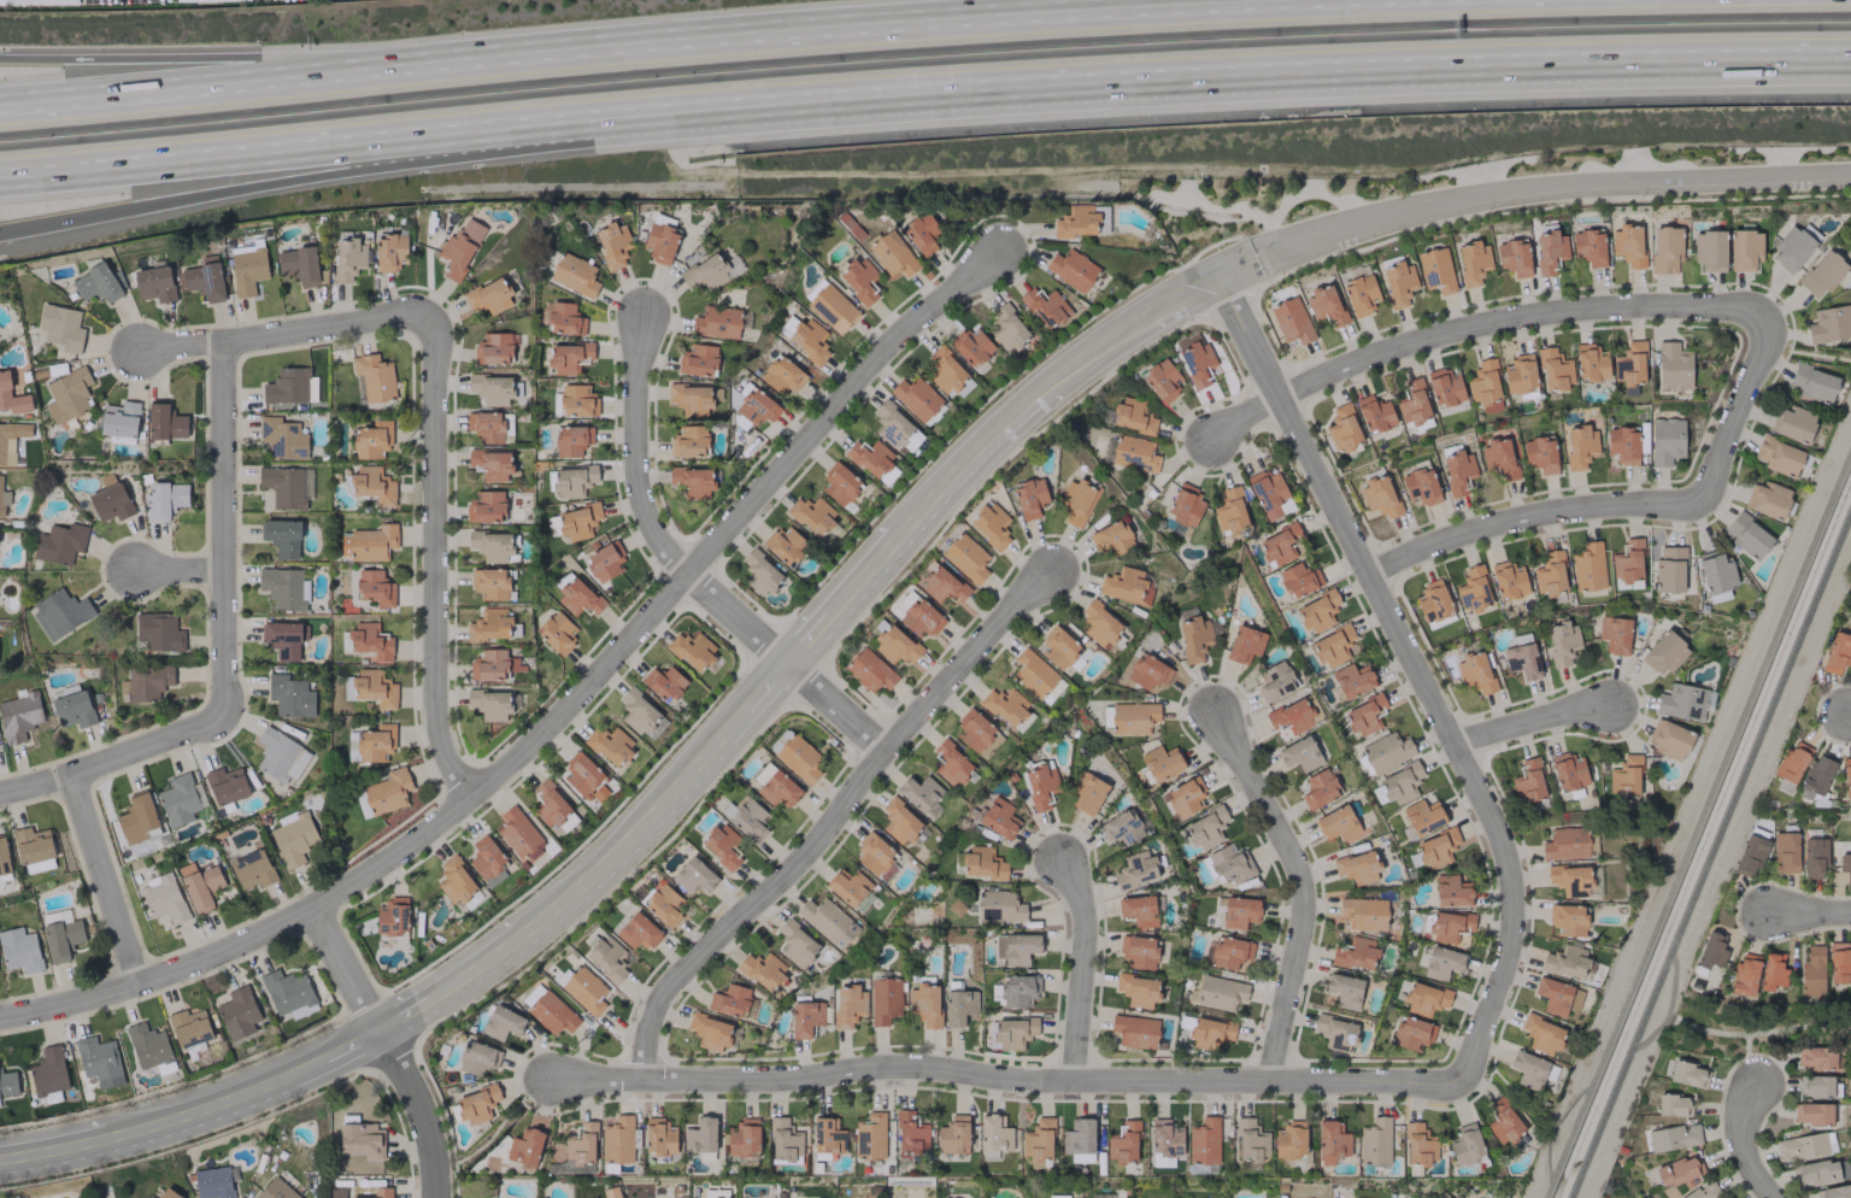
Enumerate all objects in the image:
road: (795, 24)
road: (229, 57)
road: (229, 78)
road: (1233, 78)
road: (307, 146)
road: (307, 176)
road: (1547, 182)
building: (922, 234)
building: (659, 242)
building: (612, 243)
building: (1627, 245)
building: (1793, 246)
building: (1588, 247)
building: (459, 248)
building: (1665, 248)
building: (1710, 249)
building: (1744, 249)
building: (389, 251)
building: (1549, 251)
building: (892, 254)
building: (1514, 257)
building: (348, 259)
building: (1473, 263)
building: (299, 264)
road: (1235, 266)
building: (247, 268)
building: (1071, 269)
building: (1435, 270)
building: (1822, 274)
building: (575, 275)
building: (202, 278)
building: (859, 280)
building: (95, 283)
building: (154, 283)
building: (1398, 283)
building: (1361, 294)
building: (488, 295)
building: (1324, 305)
building: (1045, 306)
building: (833, 309)
building: (563, 317)
building: (1291, 321)
building: (717, 322)
road: (1480, 322)
building: (60, 327)
building: (1006, 328)
road: (286, 331)
building: (805, 336)
road: (1099, 343)
building: (971, 347)
road: (1806, 353)
building: (565, 357)
building: (1193, 359)
building: (698, 360)
building: (1591, 363)
building: (1629, 365)
building: (1673, 366)
building: (1553, 369)
building: (947, 374)
building: (782, 375)
building: (1520, 375)
building: (374, 377)
building: (1162, 380)
building: (1812, 383)
building: (287, 386)
building: (1485, 386)
building: (1444, 389)
building: (67, 394)
building: (12, 397)
building: (916, 398)
building: (689, 399)
building: (574, 401)
building: (1412, 403)
building: (752, 410)
road: (1737, 411)
building: (1374, 413)
building: (1132, 416)
building: (118, 418)
building: (165, 422)
building: (1793, 423)
building: (488, 425)
building: (895, 428)
building: (1342, 428)
building: (282, 437)
building: (371, 439)
building: (11, 440)
building: (571, 440)
building: (1665, 440)
building: (689, 441)
building: (1622, 445)
building: (1580, 446)
building: (1134, 453)
building: (1540, 454)
building: (1777, 456)
building: (870, 457)
building: (1498, 458)
building: (490, 464)
building: (1457, 469)
building: (572, 481)
building: (693, 481)
building: (839, 483)
road: (948, 483)
building: (372, 485)
building: (282, 486)
building: (1420, 486)
building: (1269, 494)
building: (1380, 497)
building: (1029, 498)
building: (2, 499)
building: (108, 499)
building: (165, 499)
building: (1768, 499)
building: (1076, 501)
building: (1185, 505)
building: (484, 506)
building: (1229, 510)
building: (811, 515)
road: (1527, 515)
building: (577, 521)
building: (991, 525)
road: (224, 530)
building: (1747, 536)
building: (281, 538)
building: (1110, 538)
building: (368, 542)
building: (59, 544)
building: (1279, 544)
building: (492, 545)
building: (785, 545)
road: (437, 558)
building: (965, 558)
building: (604, 562)
building: (1627, 562)
building: (1587, 566)
road: (688, 569)
building: (1669, 570)
building: (1716, 571)
road: (180, 572)
building: (759, 572)
building: (1550, 574)
building: (1850, 575)
road: (866, 576)
building: (1298, 579)
building: (1508, 580)
building: (490, 583)
building: (940, 583)
building: (1126, 586)
building: (375, 587)
building: (283, 588)
building: (1473, 589)
building: (576, 594)
building: (1433, 601)
building: (1318, 611)
building: (60, 613)
building: (921, 618)
building: (489, 624)
building: (1099, 624)
building: (158, 633)
building: (557, 633)
building: (1614, 634)
building: (1194, 638)
building: (283, 639)
building: (370, 640)
road: (810, 641)
building: (1562, 642)
building: (1244, 644)
building: (895, 646)
building: (1333, 646)
building: (1058, 647)
building: (692, 650)
building: (1837, 652)
building: (1663, 653)
building: (1522, 660)
building: (493, 664)
building: (870, 670)
road: (1417, 670)
building: (1147, 671)
building: (1033, 673)
building: (1475, 673)
building: (1352, 680)
building: (1275, 681)
building: (146, 682)
building: (664, 683)
building: (375, 688)
road: (766, 688)
building: (289, 695)
building: (1681, 701)
building: (489, 704)
building: (1005, 705)
building: (74, 710)
road: (1850, 710)
building: (637, 712)
building: (1364, 715)
building: (18, 716)
building: (1133, 717)
road: (557, 720)
road: (1532, 720)
building: (977, 733)
building: (1668, 739)
building: (376, 742)
building: (609, 744)
building: (351, 746)
building: (1386, 751)
building: (1299, 753)
building: (280, 756)
building: (799, 758)
road: (113, 761)
building: (1162, 762)
building: (1791, 762)
building: (950, 763)
building: (1568, 771)
building: (763, 773)
building: (583, 776)
building: (1624, 776)
building: (1816, 777)
building: (1846, 777)
building: (1528, 782)
building: (1402, 783)
building: (225, 785)
building: (1041, 786)
building: (1320, 788)
building: (778, 789)
building: (387, 792)
building: (918, 792)
building: (1087, 793)
building: (1185, 797)
building: (180, 800)
building: (1422, 816)
building: (745, 817)
building: (998, 817)
road: (835, 818)
building: (137, 820)
building: (899, 821)
building: (1336, 823)
road: (1697, 823)
road: (640, 827)
building: (1121, 828)
building: (1205, 828)
building: (518, 834)
building: (293, 838)
building: (1570, 842)
building: (31, 845)
building: (721, 846)
building: (1850, 847)
building: (1436, 848)
building: (872, 852)
road: (1709, 852)
building: (1785, 852)
building: (1749, 856)
building: (4, 857)
building: (486, 857)
building: (1814, 857)
building: (982, 863)
building: (1229, 864)
building: (1845, 865)
building: (1357, 867)
building: (252, 869)
building: (1136, 869)
building: (693, 875)
road: (107, 879)
building: (1570, 880)
building: (454, 881)
building: (199, 886)
building: (847, 886)
road: (1301, 887)
building: (1450, 891)
building: (164, 898)
building: (664, 905)
building: (999, 906)
building: (1138, 910)
building: (1239, 911)
building: (1363, 912)
road: (1810, 912)
building: (392, 917)
building: (1568, 918)
building: (828, 921)
building: (1449, 926)
building: (636, 932)
building: (61, 939)
building: (797, 944)
building: (1016, 947)
building: (19, 950)
building: (1139, 951)
building: (1230, 952)
building: (1709, 952)
building: (1355, 953)
building: (607, 958)
building: (1565, 962)
building: (1441, 963)
building: (1839, 963)
road: (482, 967)
road: (1081, 968)
building: (762, 969)
road: (349, 971)
building: (1771, 971)
building: (1811, 973)
building: (1744, 975)
building: (1018, 989)
building: (1136, 989)
building: (584, 991)
building: (1344, 991)
building: (288, 993)
building: (1218, 993)
building: (531, 996)
building: (1557, 996)
building: (1426, 999)
building: (729, 1000)
building: (883, 1000)
building: (924, 1004)
building: (848, 1005)
building: (958, 1006)
road: (1668, 1008)
building: (237, 1012)
building: (552, 1014)
road: (409, 1015)
building: (805, 1017)
building: (501, 1022)
building: (188, 1027)
building: (1134, 1030)
building: (709, 1032)
building: (1011, 1032)
building: (1210, 1033)
building: (1335, 1033)
building: (1412, 1033)
road: (1757, 1033)
building: (1541, 1034)
building: (147, 1045)
road: (351, 1046)
building: (1815, 1057)
building: (98, 1058)
building: (477, 1058)
road: (1749, 1061)
building: (1528, 1069)
building: (1688, 1074)
building: (47, 1075)
road: (1003, 1077)
building: (7, 1084)
building: (1816, 1086)
road: (215, 1103)
building: (476, 1104)
building: (1673, 1104)
road: (1522, 1108)
road: (425, 1109)
road: (1564, 1109)
building: (1811, 1114)
building: (1503, 1123)
building: (953, 1134)
building: (700, 1135)
building: (909, 1135)
building: (993, 1135)
building: (659, 1137)
building: (869, 1137)
building: (1673, 1137)
building: (744, 1138)
building: (827, 1138)
building: (362, 1140)
building: (617, 1140)
building: (783, 1140)
building: (1038, 1140)
building: (1079, 1140)
building: (1251, 1140)
building: (1289, 1140)
building: (1203, 1141)
building: (1330, 1141)
building: (1375, 1141)
building: (1164, 1143)
building: (581, 1144)
building: (1123, 1144)
building: (1418, 1145)
building: (1465, 1145)
road: (1743, 1145)
building: (1804, 1146)
building: (524, 1147)
road: (53, 1149)
building: (1677, 1170)
building: (1820, 1171)
building: (215, 1181)
building: (275, 1190)
building: (1703, 1191)
building: (381, 1192)
building: (1833, 1192)
building: (168, 1193)
building: (594, 1197)

